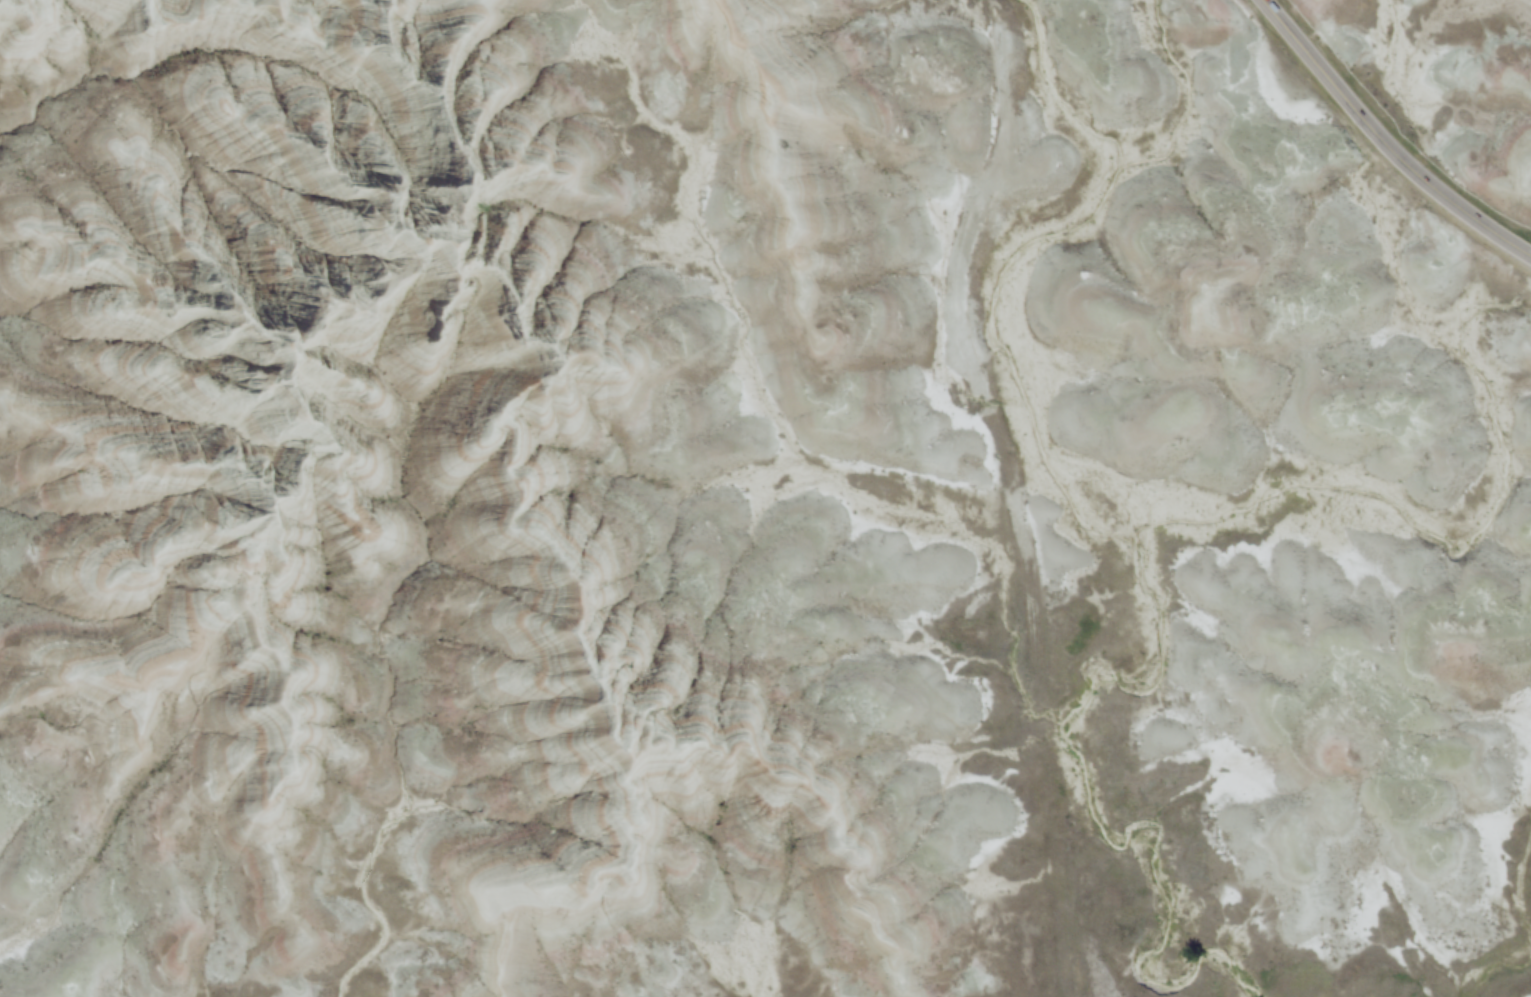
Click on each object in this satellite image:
road: (1390, 131)

